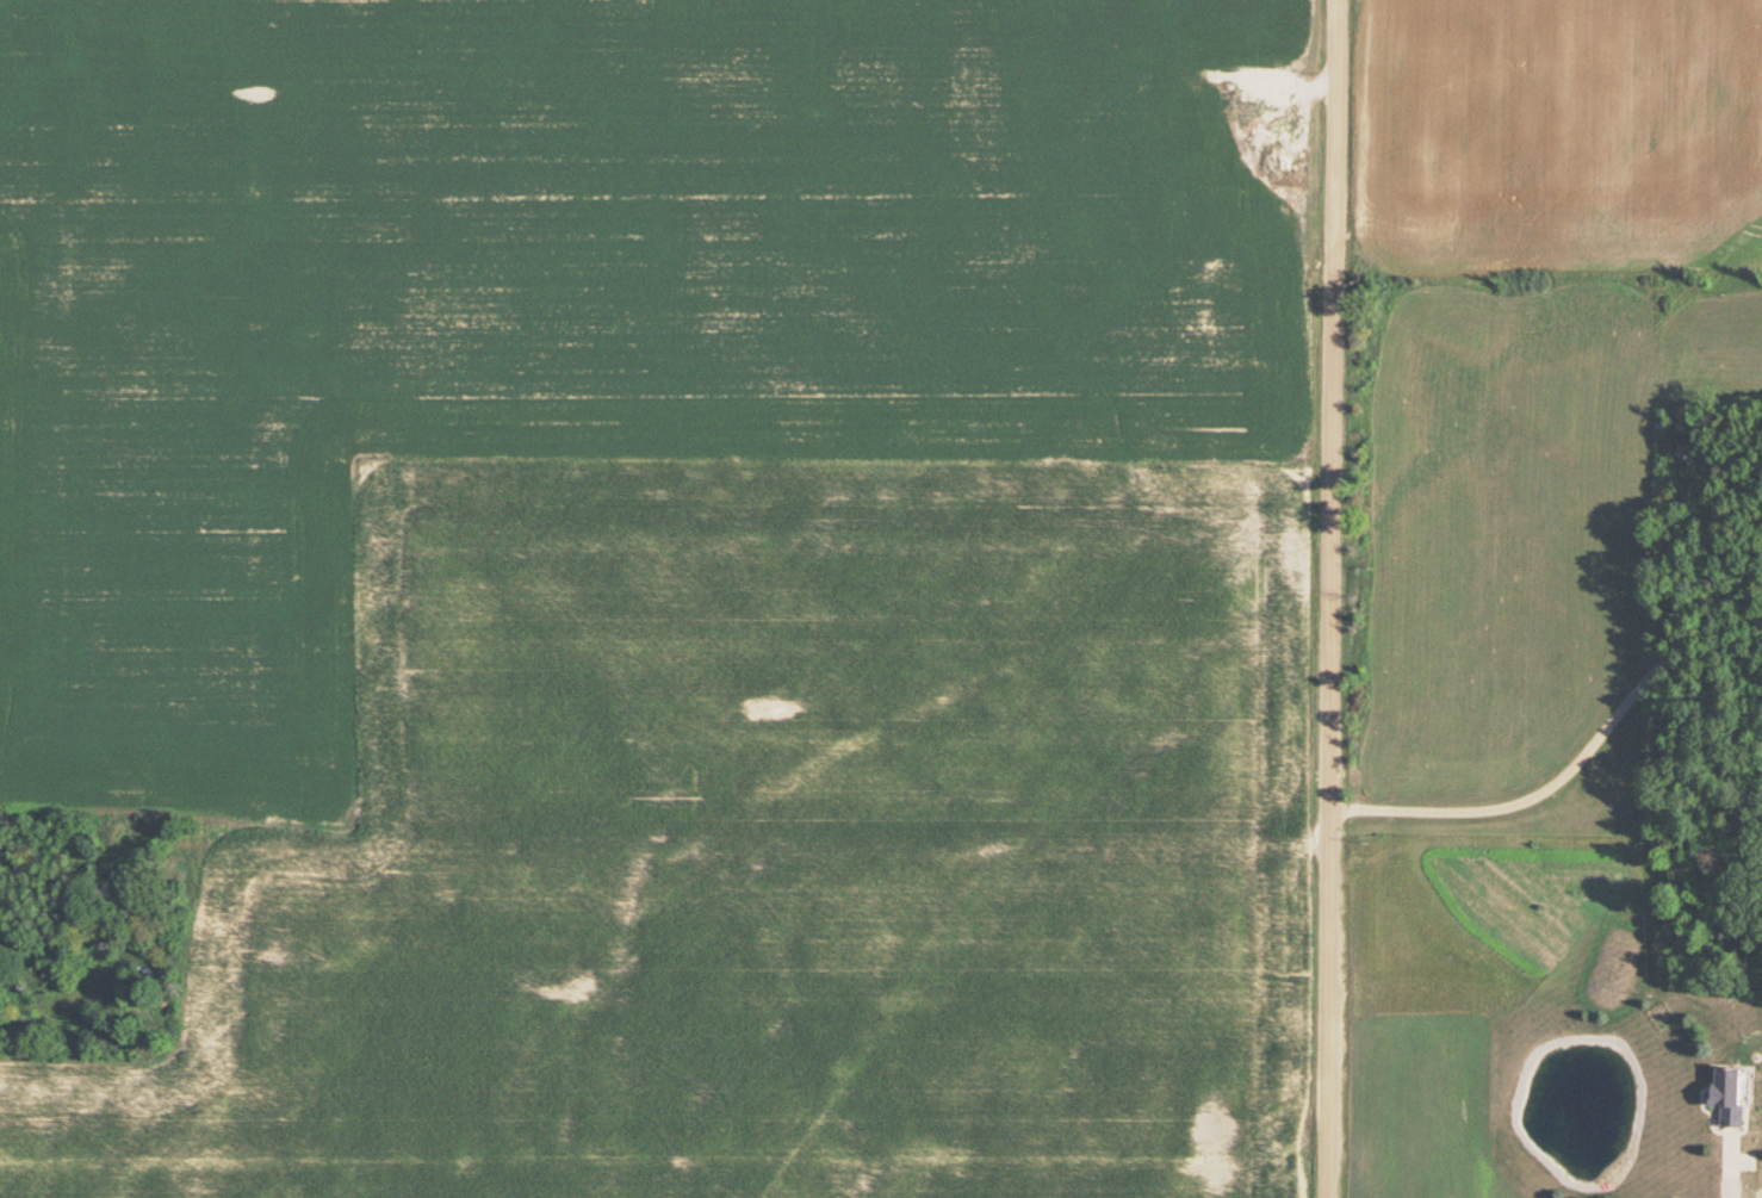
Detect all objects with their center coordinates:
road: (1326, 598)
road: (1568, 766)
building: (1727, 1097)
road: (1730, 1190)

